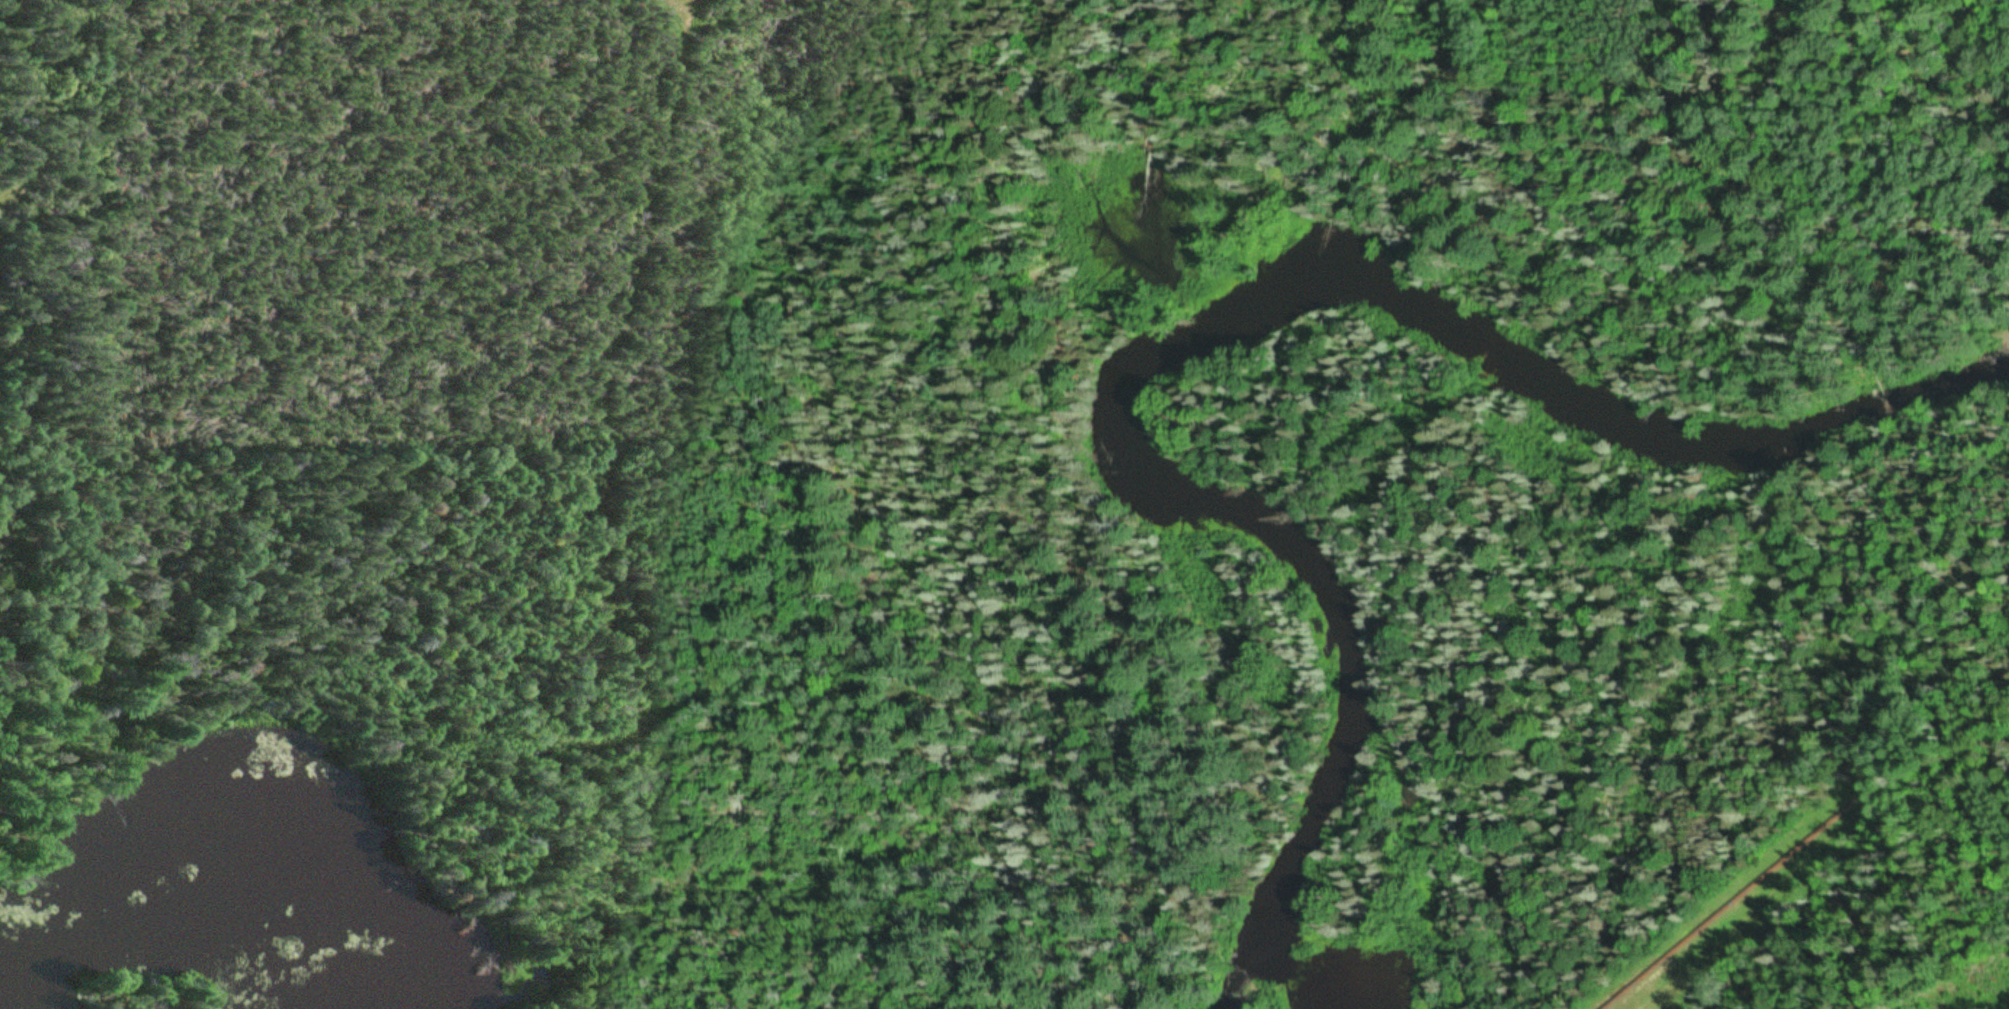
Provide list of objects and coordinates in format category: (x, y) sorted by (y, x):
river: (1208, 345)
river: (1229, 1002)

